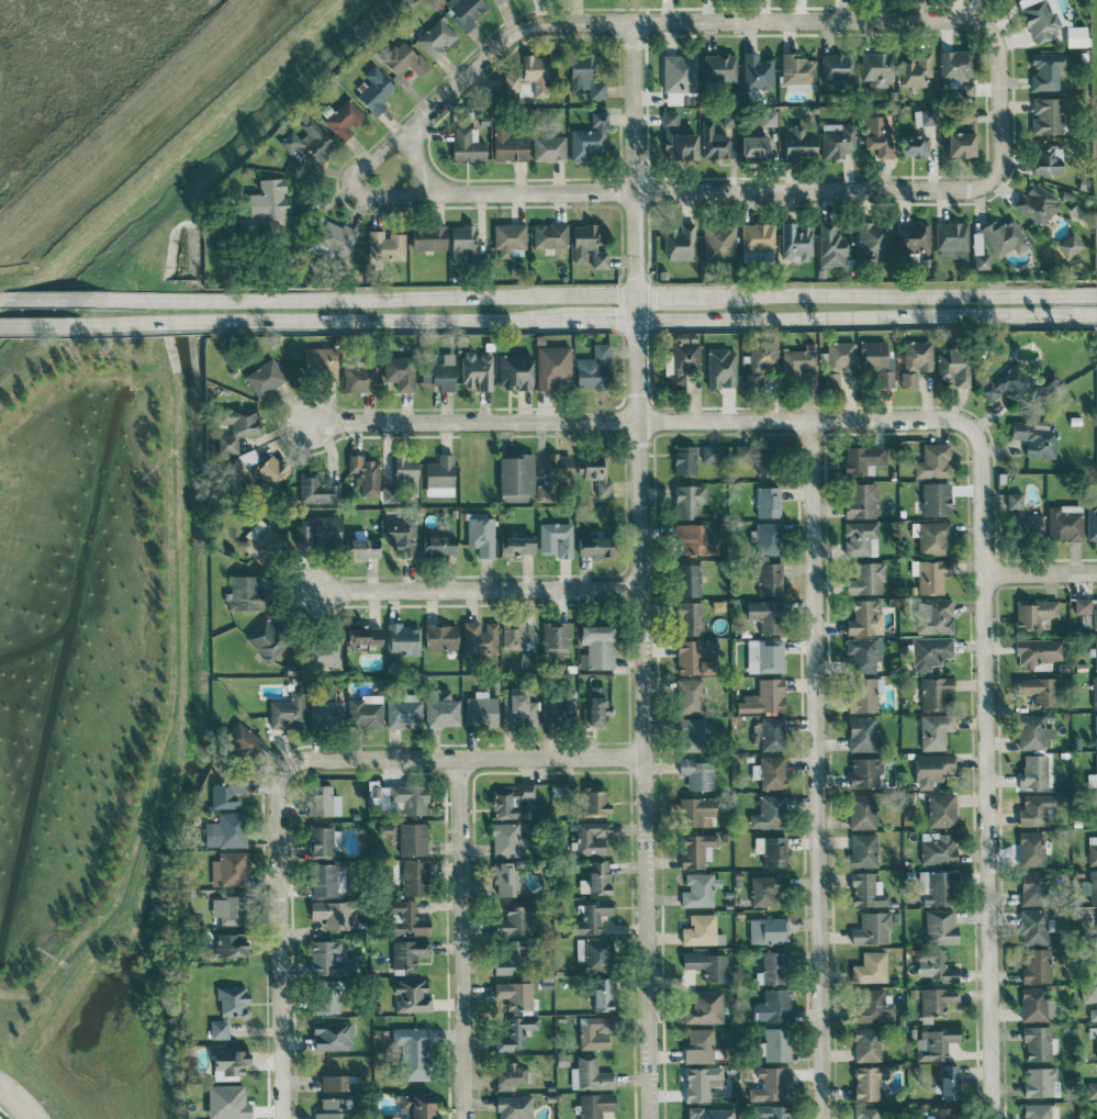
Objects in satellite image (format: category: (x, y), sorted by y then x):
building: (497, 1)
building: (464, 10)
road: (641, 11)
building: (1041, 18)
road: (670, 23)
building: (1076, 36)
building: (436, 38)
building: (403, 58)
building: (956, 64)
building: (719, 67)
building: (838, 67)
building: (876, 68)
building: (917, 69)
building: (1048, 70)
building: (755, 71)
building: (798, 71)
building: (535, 74)
building: (585, 77)
building: (679, 78)
building: (512, 82)
building: (966, 88)
building: (376, 90)
building: (1048, 115)
building: (929, 116)
building: (670, 118)
building: (769, 118)
building: (344, 119)
building: (729, 119)
building: (962, 134)
building: (878, 135)
building: (590, 137)
building: (838, 139)
building: (310, 141)
building: (714, 142)
building: (679, 143)
building: (798, 143)
building: (468, 144)
building: (508, 145)
building: (915, 145)
building: (549, 147)
building: (754, 147)
building: (1048, 158)
road: (418, 166)
road: (715, 191)
building: (269, 201)
building: (1038, 203)
building: (550, 235)
building: (428, 237)
building: (914, 237)
building: (1004, 237)
building: (510, 239)
building: (874, 239)
building: (952, 239)
building: (795, 240)
building: (680, 242)
building: (719, 242)
building: (758, 243)
building: (385, 245)
building: (464, 245)
building: (587, 246)
building: (832, 246)
building: (1070, 246)
building: (982, 261)
road: (602, 295)
road: (54, 299)
road: (591, 322)
road: (43, 325)
building: (684, 358)
building: (321, 361)
building: (760, 361)
building: (838, 361)
building: (915, 361)
building: (877, 362)
building: (552, 366)
building: (801, 366)
building: (954, 367)
building: (593, 368)
building: (721, 368)
building: (439, 370)
building: (477, 370)
building: (400, 371)
building: (514, 371)
building: (265, 378)
building: (359, 378)
building: (1007, 384)
road: (640, 421)
building: (235, 427)
building: (1036, 437)
building: (712, 452)
building: (757, 457)
building: (863, 459)
building: (684, 460)
building: (933, 461)
building: (260, 468)
building: (555, 473)
building: (365, 474)
building: (440, 475)
building: (516, 477)
building: (597, 477)
building: (402, 479)
building: (316, 490)
building: (936, 499)
building: (689, 500)
building: (861, 500)
building: (768, 502)
building: (1023, 517)
building: (1064, 522)
building: (1092, 523)
building: (320, 531)
building: (402, 536)
building: (481, 536)
building: (691, 537)
building: (933, 537)
building: (557, 538)
building: (769, 538)
building: (861, 538)
building: (262, 544)
building: (439, 545)
building: (516, 547)
building: (595, 547)
building: (365, 548)
road: (640, 571)
road: (1040, 572)
building: (931, 574)
building: (768, 578)
building: (866, 579)
building: (690, 580)
road: (480, 590)
building: (244, 593)
building: (1083, 611)
building: (1036, 613)
building: (766, 615)
building: (934, 616)
building: (865, 617)
building: (691, 618)
building: (1094, 618)
building: (513, 634)
building: (556, 635)
building: (363, 636)
building: (441, 636)
building: (480, 637)
building: (404, 639)
building: (267, 640)
building: (598, 646)
building: (930, 651)
building: (1038, 652)
building: (1095, 652)
building: (323, 653)
building: (863, 654)
building: (765, 656)
building: (696, 657)
building: (528, 660)
building: (1039, 690)
building: (936, 692)
building: (1094, 692)
building: (863, 694)
building: (691, 695)
building: (764, 696)
building: (598, 704)
building: (558, 707)
building: (441, 708)
building: (481, 709)
building: (365, 710)
building: (520, 710)
building: (289, 712)
building: (404, 712)
building: (326, 713)
building: (1095, 729)
building: (936, 730)
building: (1033, 731)
building: (772, 732)
building: (862, 734)
building: (692, 735)
building: (242, 740)
road: (463, 758)
building: (932, 769)
building: (1096, 769)
road: (817, 770)
building: (1034, 771)
building: (771, 772)
building: (864, 772)
building: (697, 773)
road: (985, 773)
building: (568, 788)
building: (228, 792)
building: (1096, 794)
building: (399, 797)
building: (321, 801)
building: (512, 802)
building: (595, 802)
building: (941, 809)
building: (1037, 809)
building: (862, 810)
building: (698, 812)
building: (770, 813)
building: (226, 830)
building: (592, 837)
building: (321, 839)
building: (413, 839)
building: (507, 839)
building: (938, 848)
building: (1032, 848)
building: (696, 850)
building: (772, 850)
building: (864, 850)
building: (1093, 850)
building: (230, 869)
building: (414, 877)
building: (505, 879)
building: (596, 879)
building: (324, 880)
building: (1093, 886)
building: (1033, 887)
building: (940, 888)
building: (701, 889)
building: (766, 889)
building: (866, 891)
building: (228, 907)
building: (332, 914)
building: (591, 917)
building: (405, 918)
building: (515, 920)
building: (940, 926)
building: (1034, 926)
building: (872, 928)
building: (702, 930)
building: (769, 930)
road: (459, 939)
road: (279, 940)
building: (231, 944)
building: (1096, 949)
building: (408, 952)
building: (596, 955)
building: (511, 958)
building: (328, 959)
building: (938, 964)
building: (707, 965)
building: (1037, 965)
building: (773, 967)
building: (871, 967)
building: (329, 991)
building: (1089, 993)
building: (515, 994)
building: (603, 994)
building: (412, 996)
building: (936, 1001)
building: (873, 1004)
building: (1037, 1004)
building: (774, 1006)
building: (705, 1007)
building: (228, 1009)
building: (1094, 1012)
building: (515, 1032)
building: (594, 1032)
building: (332, 1036)
building: (1096, 1040)
building: (934, 1042)
building: (1039, 1043)
building: (776, 1044)
building: (866, 1044)
building: (699, 1045)
building: (413, 1051)
building: (230, 1063)
building: (591, 1075)
building: (508, 1076)
building: (870, 1081)
building: (334, 1082)
building: (701, 1082)
building: (949, 1082)
building: (1041, 1082)
building: (771, 1083)
building: (1092, 1089)
road: (16, 1100)
building: (227, 1101)
building: (332, 1104)
building: (595, 1105)
building: (412, 1107)
building: (515, 1107)
building: (771, 1111)
building: (1041, 1111)
building: (945, 1112)
building: (709, 1114)
building: (329, 1115)
building: (929, 1116)

